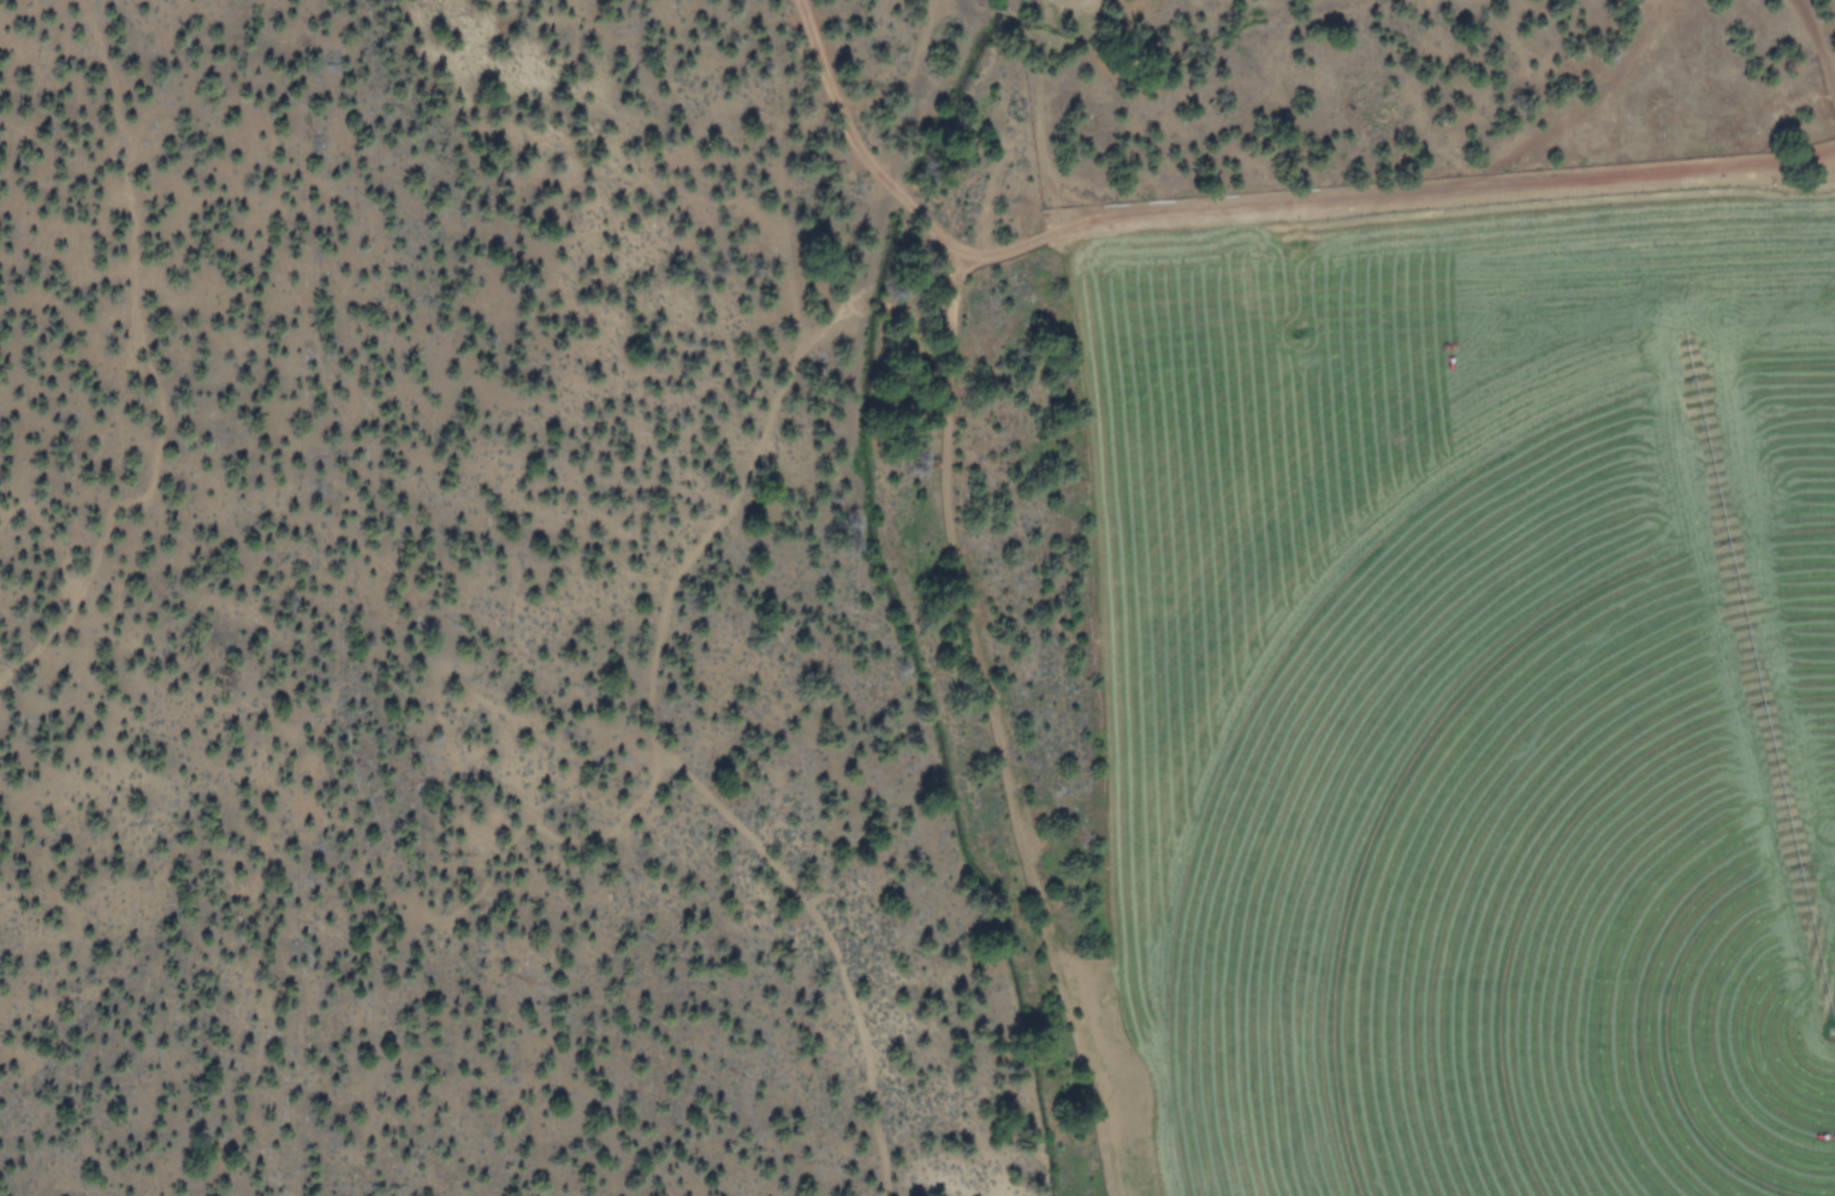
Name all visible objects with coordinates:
crop: (1062, 2)
crop: (1472, 690)

